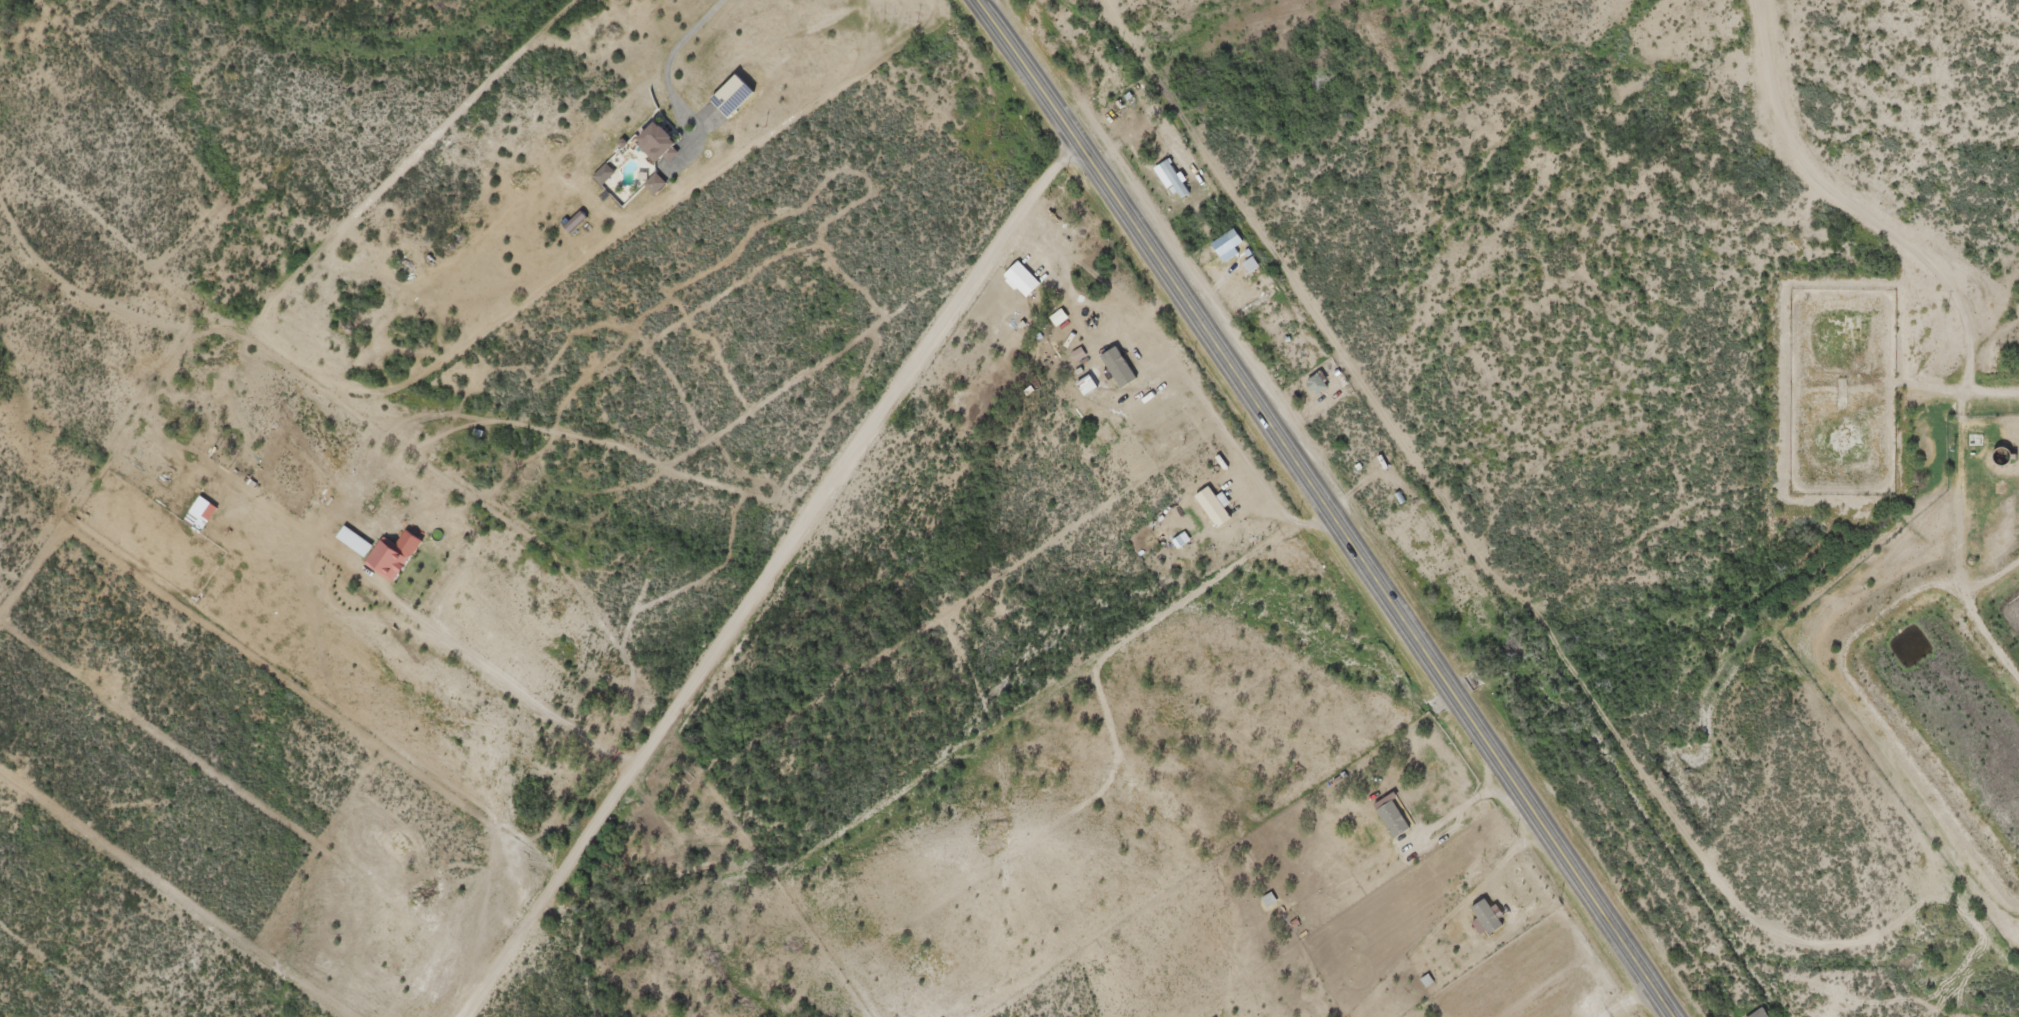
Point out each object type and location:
building: (659, 140)
building: (1226, 238)
road: (1959, 310)
road: (1992, 392)
road: (676, 465)
road: (1332, 506)
building: (1221, 510)
building: (388, 555)
road: (1990, 578)
building: (1754, 1014)

